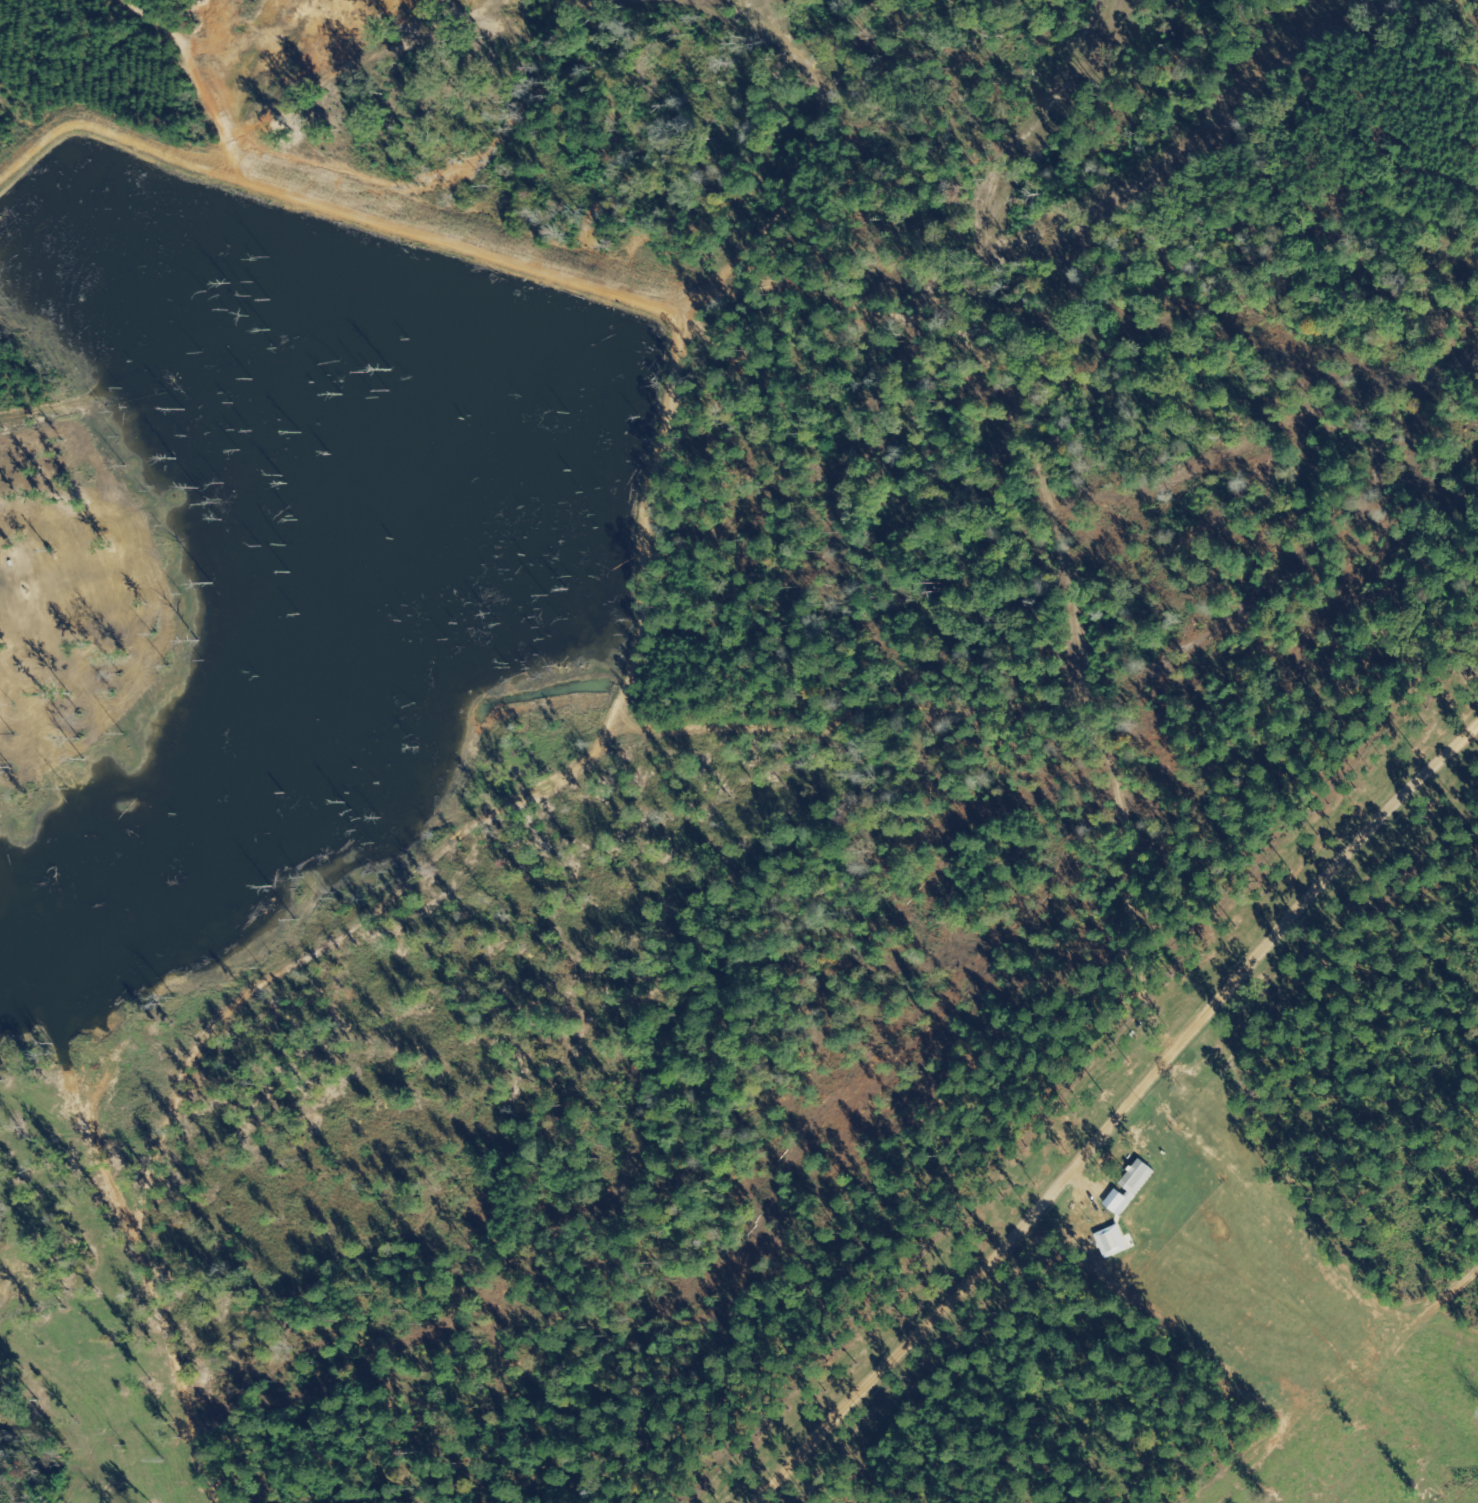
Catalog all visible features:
road: (1112, 1108)
building: (1130, 1188)

